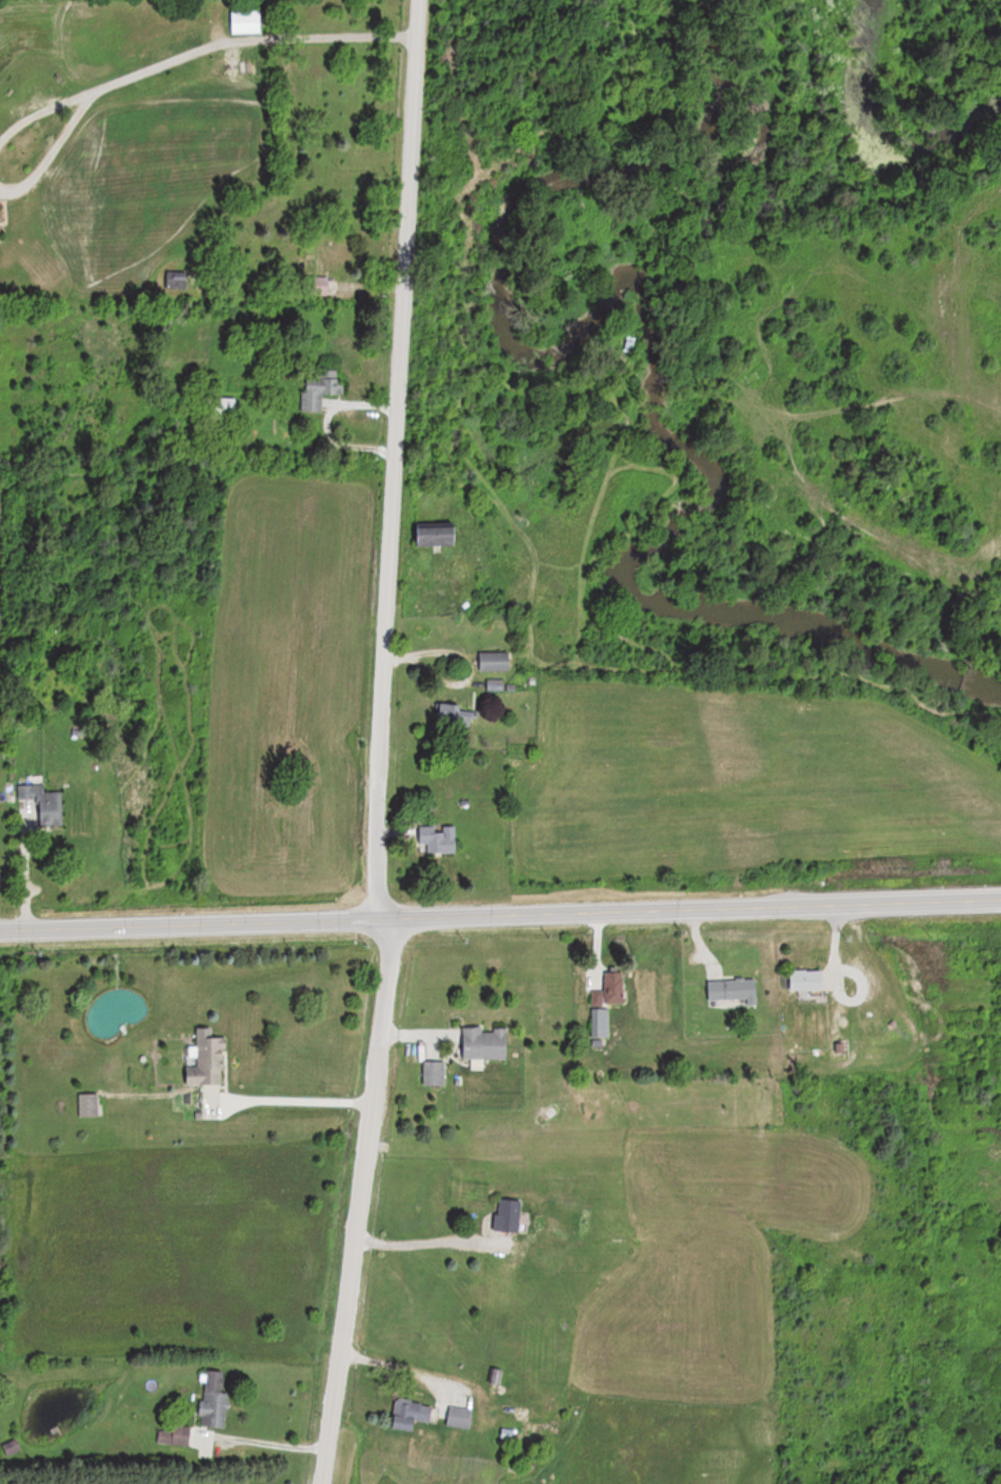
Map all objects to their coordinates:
building: (247, 23)
road: (247, 42)
road: (41, 111)
road: (52, 153)
building: (335, 251)
building: (176, 280)
building: (320, 389)
building: (226, 407)
building: (440, 537)
building: (495, 661)
building: (499, 685)
building: (456, 716)
road: (364, 743)
building: (44, 804)
building: (438, 841)
road: (500, 917)
building: (808, 978)
building: (614, 988)
building: (734, 990)
building: (600, 1023)
building: (485, 1043)
building: (208, 1061)
building: (434, 1073)
road: (284, 1097)
building: (89, 1104)
building: (508, 1214)
road: (414, 1248)
road: (394, 1365)
building: (215, 1400)
building: (411, 1414)
building: (460, 1417)
building: (181, 1435)
building: (507, 1437)
road: (252, 1441)
building: (12, 1448)

